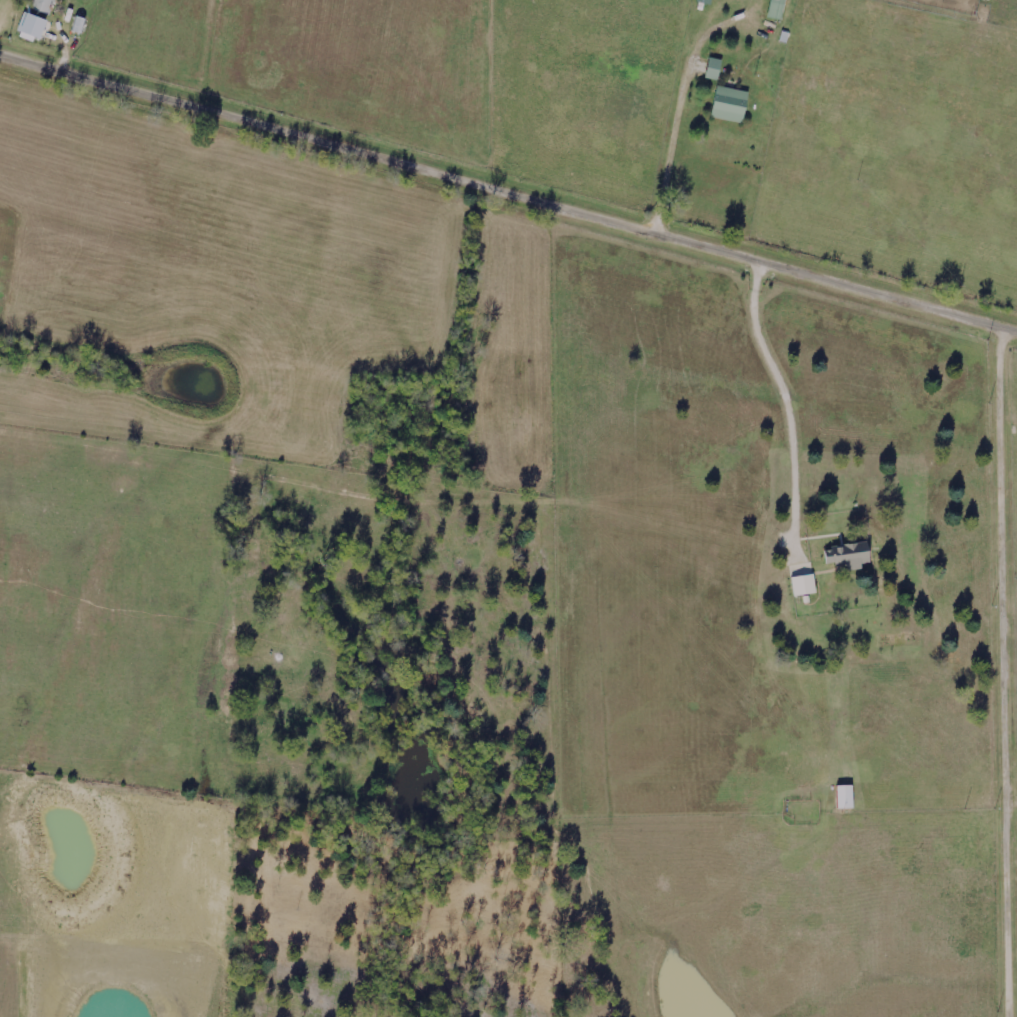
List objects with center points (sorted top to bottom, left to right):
building: (705, 2)
building: (42, 5)
building: (777, 9)
building: (32, 26)
building: (714, 69)
building: (730, 104)
road: (508, 194)
building: (850, 556)
building: (804, 585)
road: (1012, 615)
building: (845, 798)

